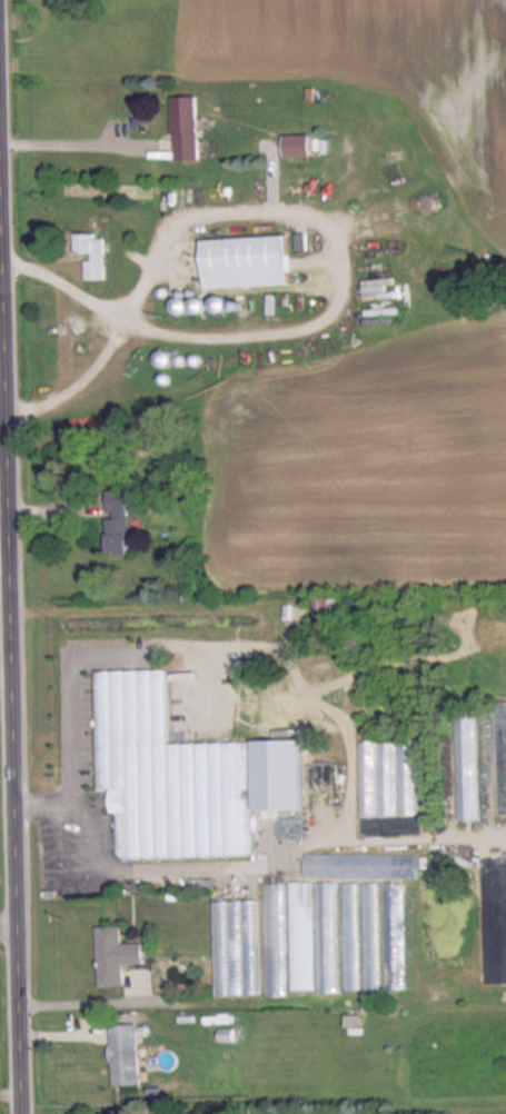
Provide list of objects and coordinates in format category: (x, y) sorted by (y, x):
building: (185, 128)
road: (77, 142)
road: (327, 236)
building: (91, 253)
building: (244, 261)
road: (7, 344)
building: (115, 520)
road: (17, 556)
building: (327, 610)
building: (264, 630)
road: (10, 675)
building: (499, 753)
building: (85, 760)
building: (466, 763)
building: (387, 776)
building: (188, 797)
road: (40, 806)
road: (272, 859)
building: (360, 865)
road: (88, 872)
road: (12, 918)
building: (371, 934)
building: (394, 934)
building: (351, 935)
building: (326, 936)
building: (229, 944)
building: (116, 953)
road: (90, 997)
building: (126, 1052)

